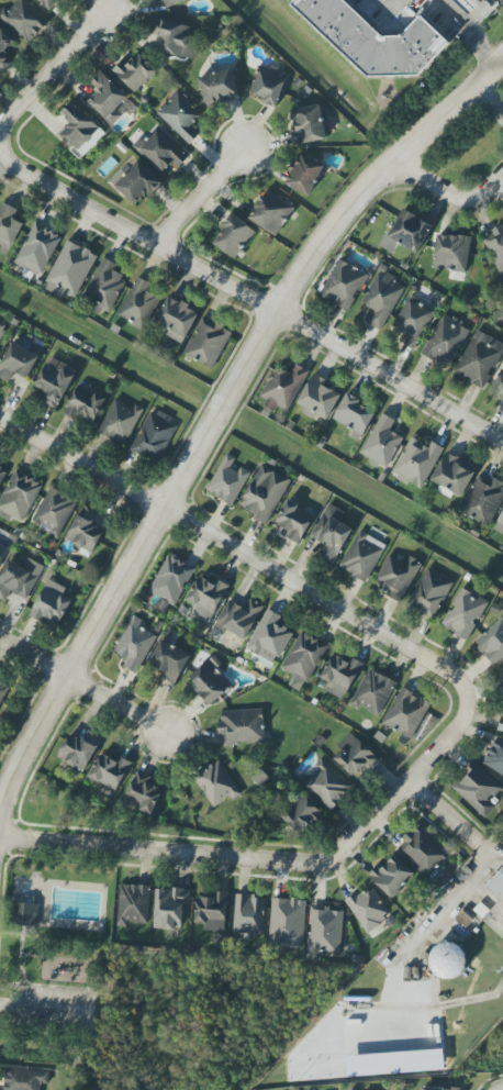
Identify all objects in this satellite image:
building: (171, 2)
building: (48, 3)
building: (467, 4)
road: (387, 9)
road: (479, 15)
building: (23, 20)
road: (465, 32)
building: (172, 38)
building: (372, 40)
building: (4, 49)
building: (135, 73)
road: (43, 74)
building: (268, 85)
building: (217, 88)
road: (489, 99)
building: (180, 116)
building: (308, 125)
building: (78, 129)
building: (160, 151)
building: (304, 175)
building: (135, 182)
road: (447, 192)
road: (199, 198)
building: (271, 213)
building: (8, 224)
building: (406, 232)
building: (234, 236)
building: (495, 247)
building: (37, 249)
building: (451, 253)
building: (69, 270)
building: (344, 285)
building: (104, 288)
road: (249, 294)
building: (382, 299)
building: (138, 304)
building: (177, 319)
building: (413, 322)
building: (1, 331)
building: (445, 341)
building: (206, 343)
building: (480, 359)
building: (19, 362)
building: (54, 383)
building: (498, 386)
building: (282, 388)
building: (318, 398)
road: (220, 403)
building: (85, 404)
building: (354, 416)
building: (120, 421)
building: (153, 437)
building: (381, 443)
building: (416, 463)
building: (454, 474)
building: (2, 475)
building: (227, 480)
building: (264, 493)
building: (19, 497)
building: (483, 500)
building: (54, 512)
building: (293, 521)
building: (500, 525)
building: (85, 531)
building: (331, 533)
road: (236, 552)
building: (1, 553)
building: (362, 556)
building: (398, 576)
building: (19, 579)
building: (431, 593)
building: (205, 599)
building: (51, 603)
building: (463, 613)
building: (238, 618)
building: (269, 638)
building: (492, 642)
building: (134, 645)
building: (303, 659)
building: (169, 661)
building: (340, 675)
building: (210, 680)
road: (83, 687)
building: (3, 690)
building: (373, 692)
building: (406, 713)
building: (501, 726)
building: (242, 727)
building: (79, 750)
building: (355, 756)
building: (495, 757)
building: (109, 771)
building: (216, 783)
road: (403, 785)
building: (326, 786)
building: (477, 789)
building: (143, 793)
road: (444, 814)
building: (301, 816)
road: (160, 850)
building: (423, 852)
road: (3, 877)
building: (391, 877)
building: (496, 882)
building: (133, 904)
building: (169, 908)
building: (368, 909)
building: (212, 912)
building: (25, 914)
building: (248, 915)
building: (287, 923)
building: (324, 932)
road: (10, 935)
road: (30, 956)
road: (19, 957)
park: (54, 958)
building: (448, 958)
road: (53, 990)
road: (44, 1009)
parking lot: (52, 1009)
building: (24, 1079)
building: (438, 1088)

